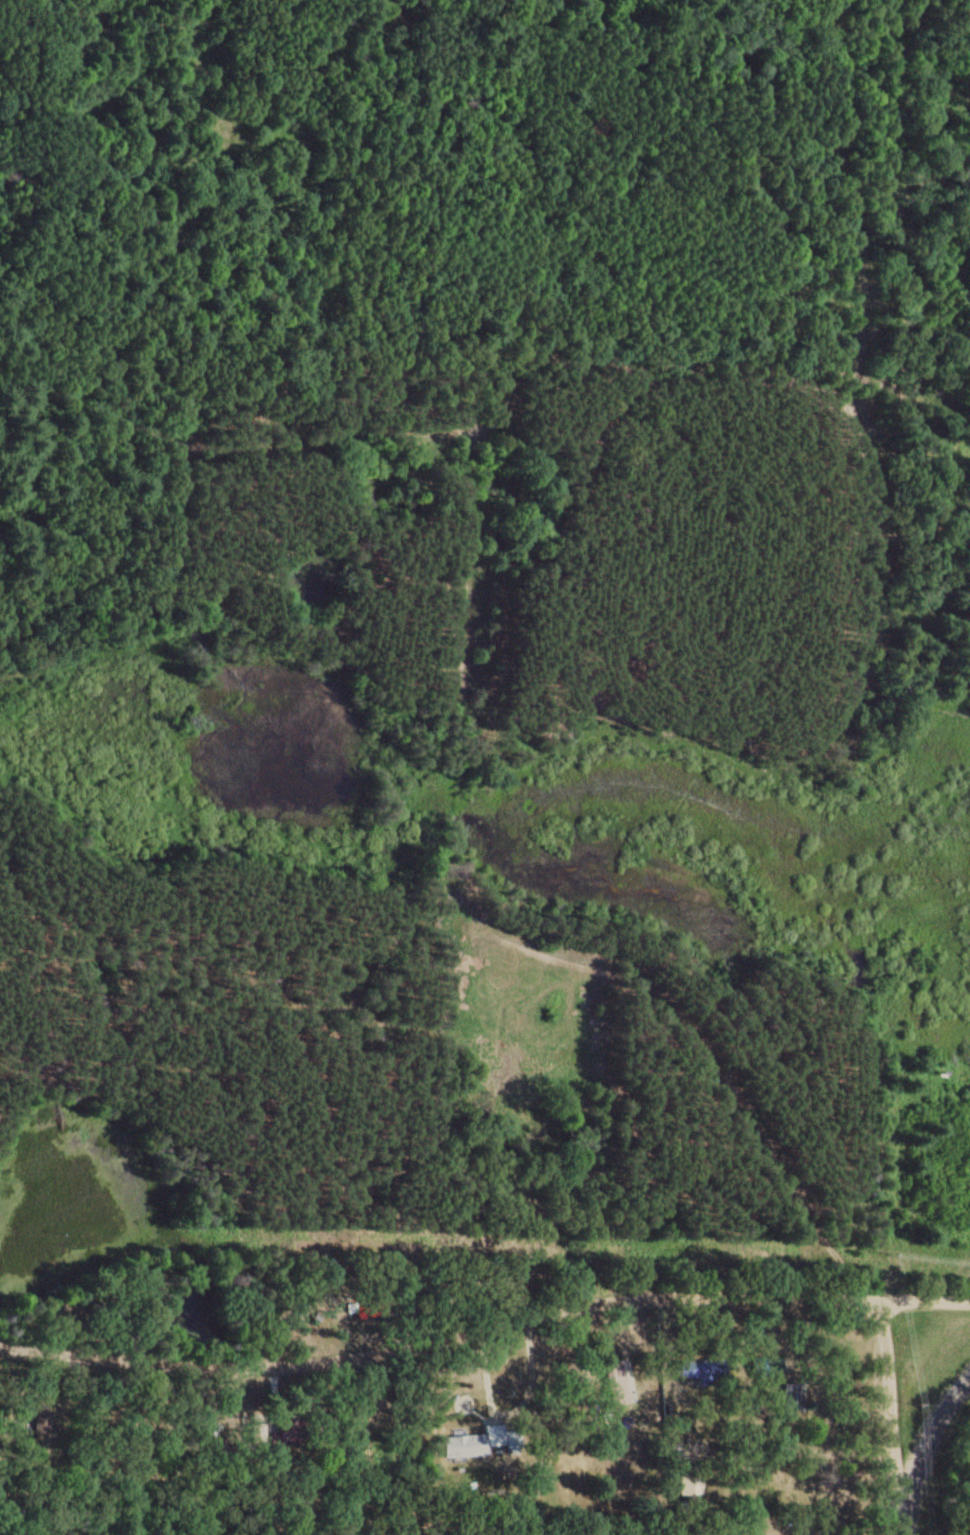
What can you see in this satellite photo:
road: (851, 200)
road: (470, 568)
road: (924, 1303)
road: (546, 1312)
building: (701, 1369)
building: (623, 1381)
building: (792, 1395)
building: (258, 1430)
building: (280, 1435)
building: (473, 1440)
road: (927, 1446)
road: (903, 1529)

